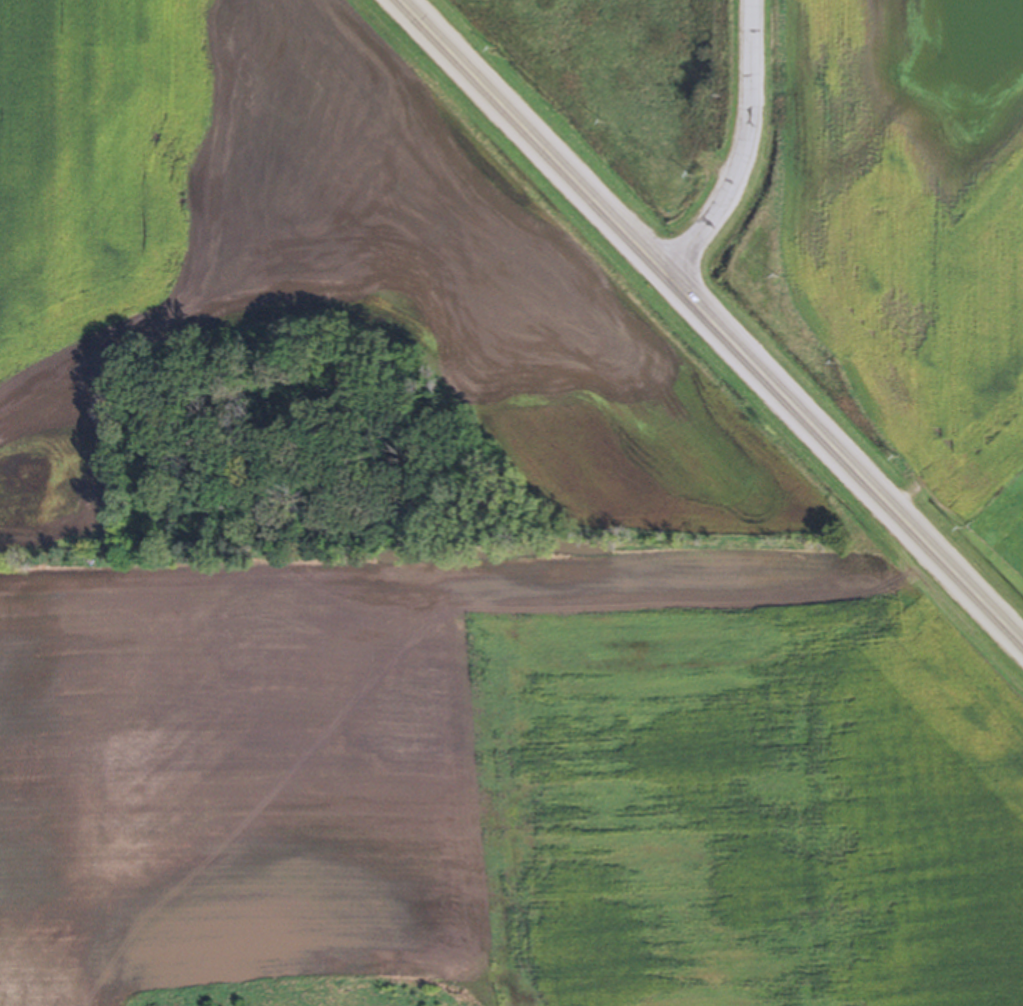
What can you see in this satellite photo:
road: (531, 132)
road: (745, 148)
road: (840, 453)

